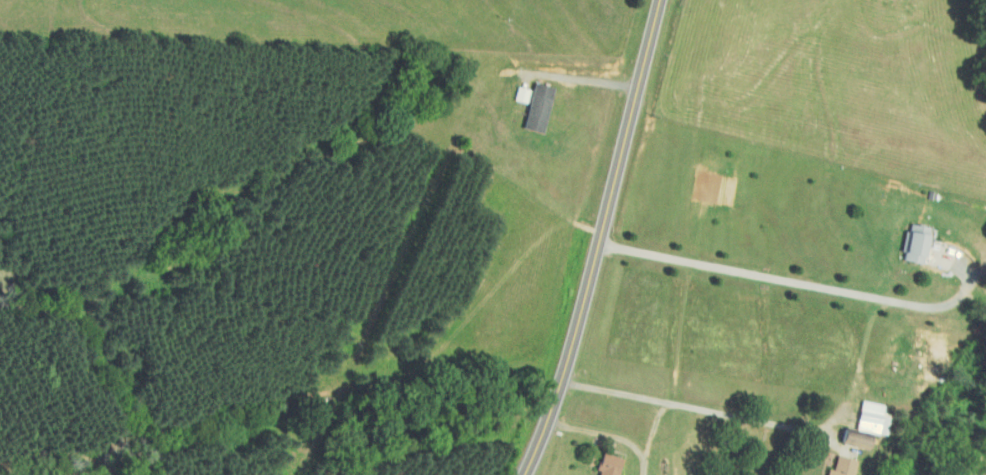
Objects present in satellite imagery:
road: (587, 77)
building: (542, 106)
road: (601, 240)
building: (909, 242)
road: (802, 283)
road: (695, 407)
building: (864, 415)
road: (603, 433)
building: (847, 438)
building: (613, 463)
building: (838, 466)

